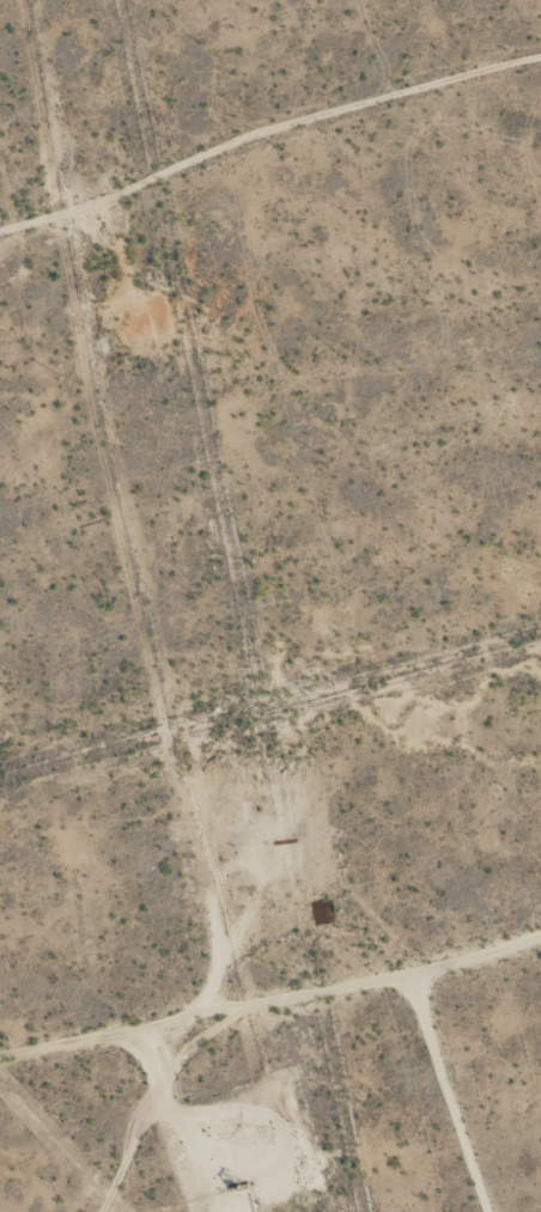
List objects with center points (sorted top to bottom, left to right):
road: (270, 968)

